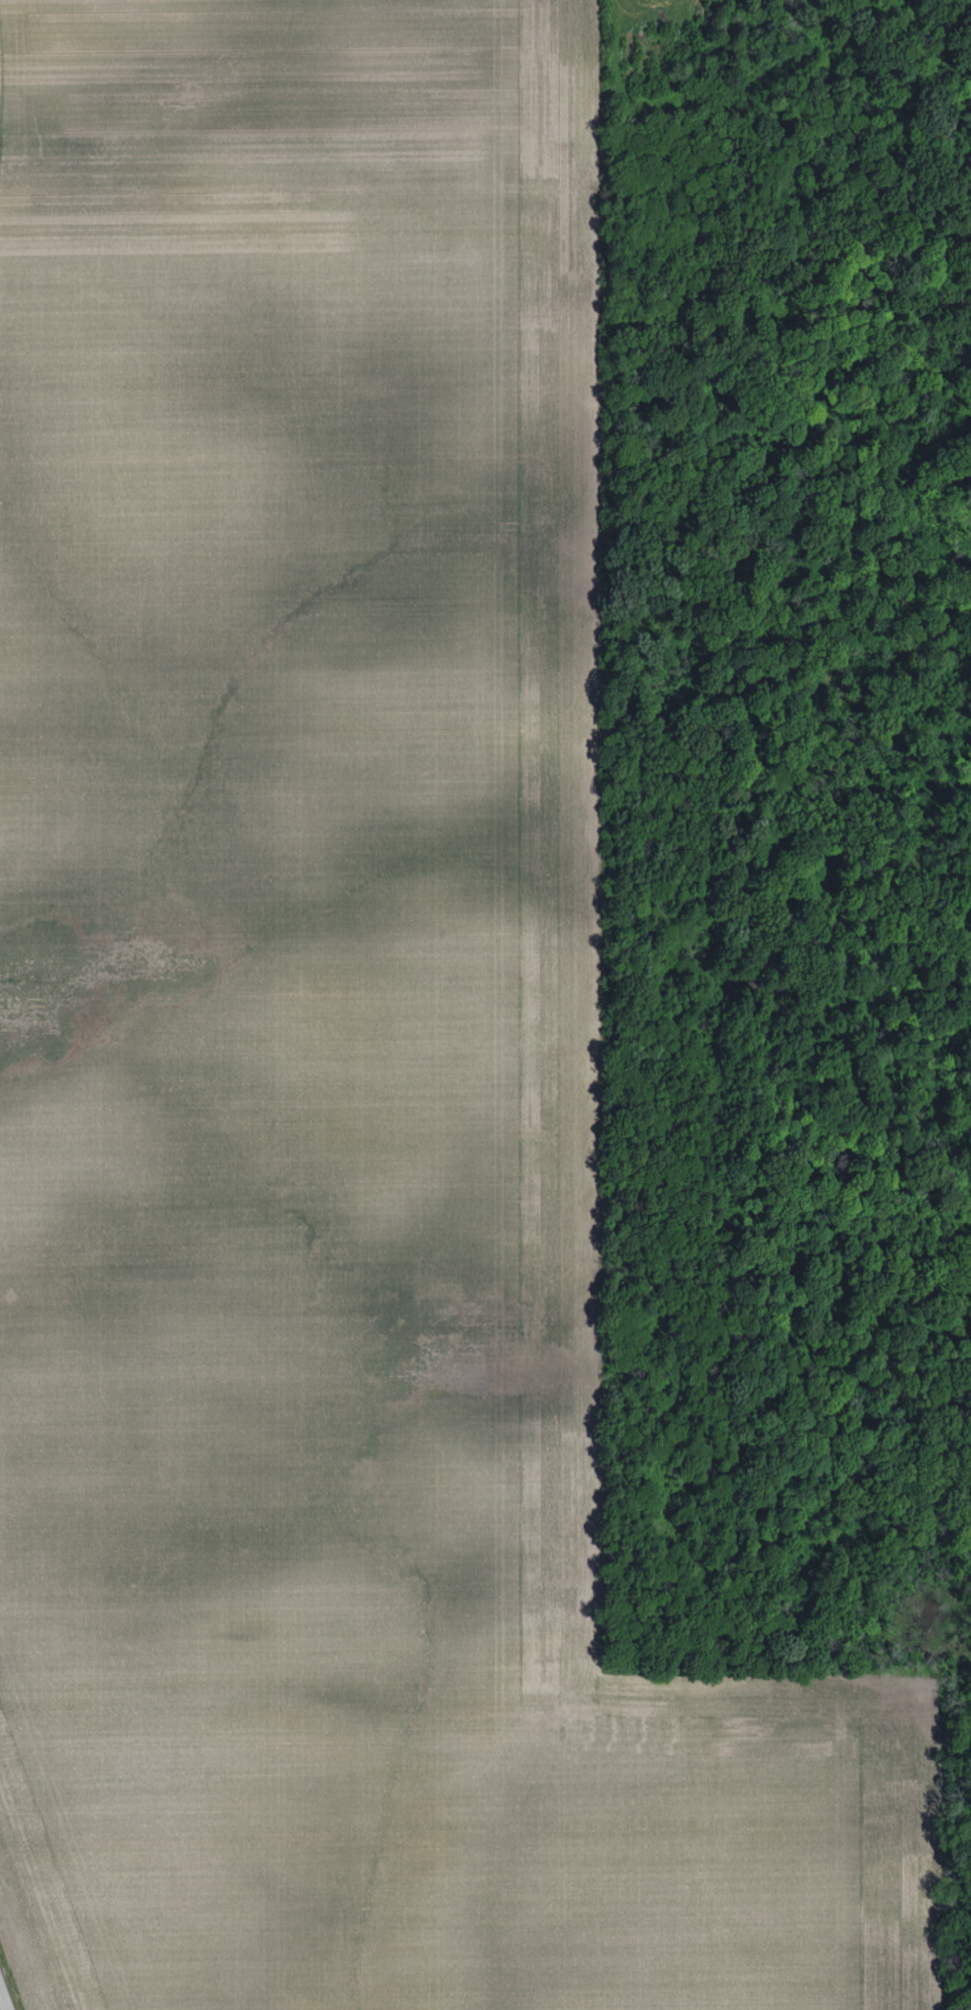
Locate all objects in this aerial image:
road: (2, 2002)

